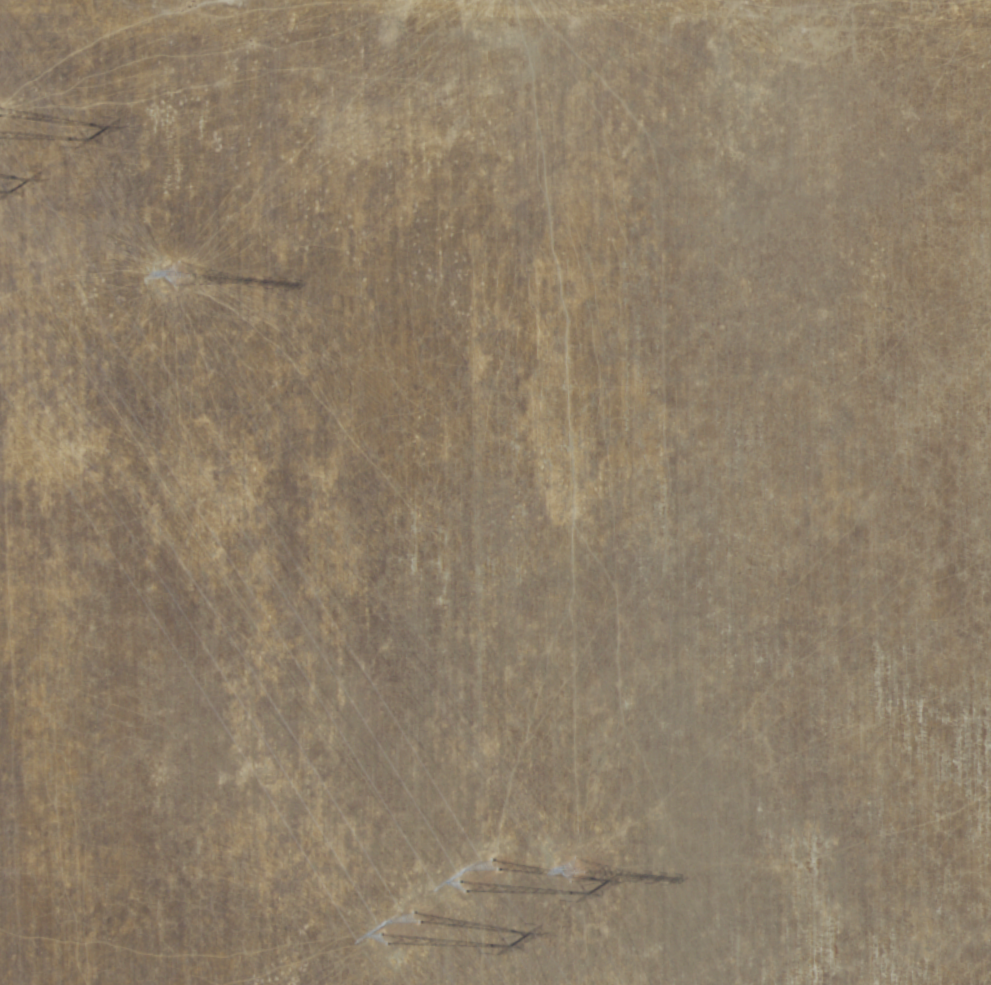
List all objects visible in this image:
power tower: (162, 253)
power tower: (576, 868)
power tower: (487, 873)
power tower: (419, 938)

